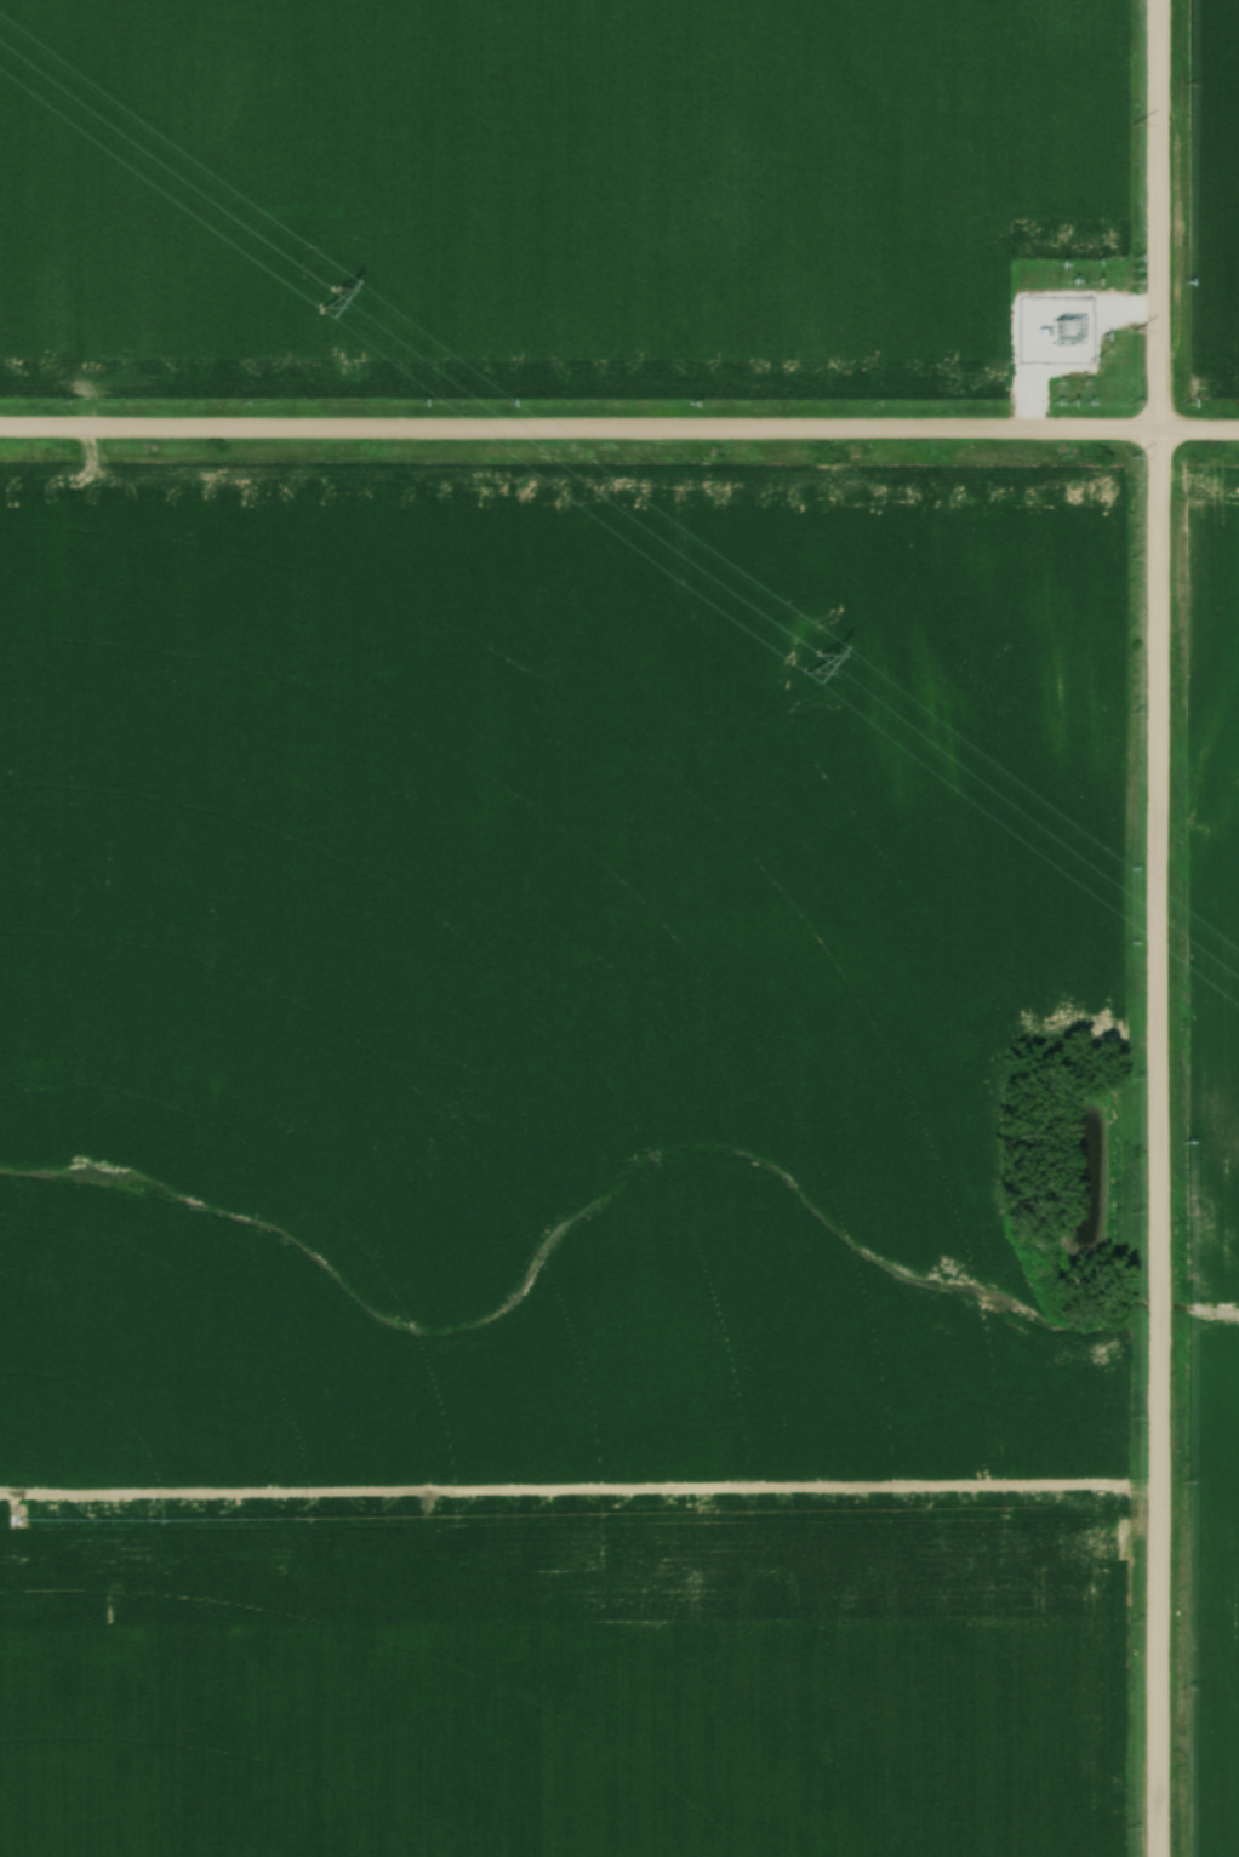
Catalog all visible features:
crop: (532, 171)
power tower: (335, 298)
road: (619, 430)
power tower: (813, 663)
road: (1159, 928)

